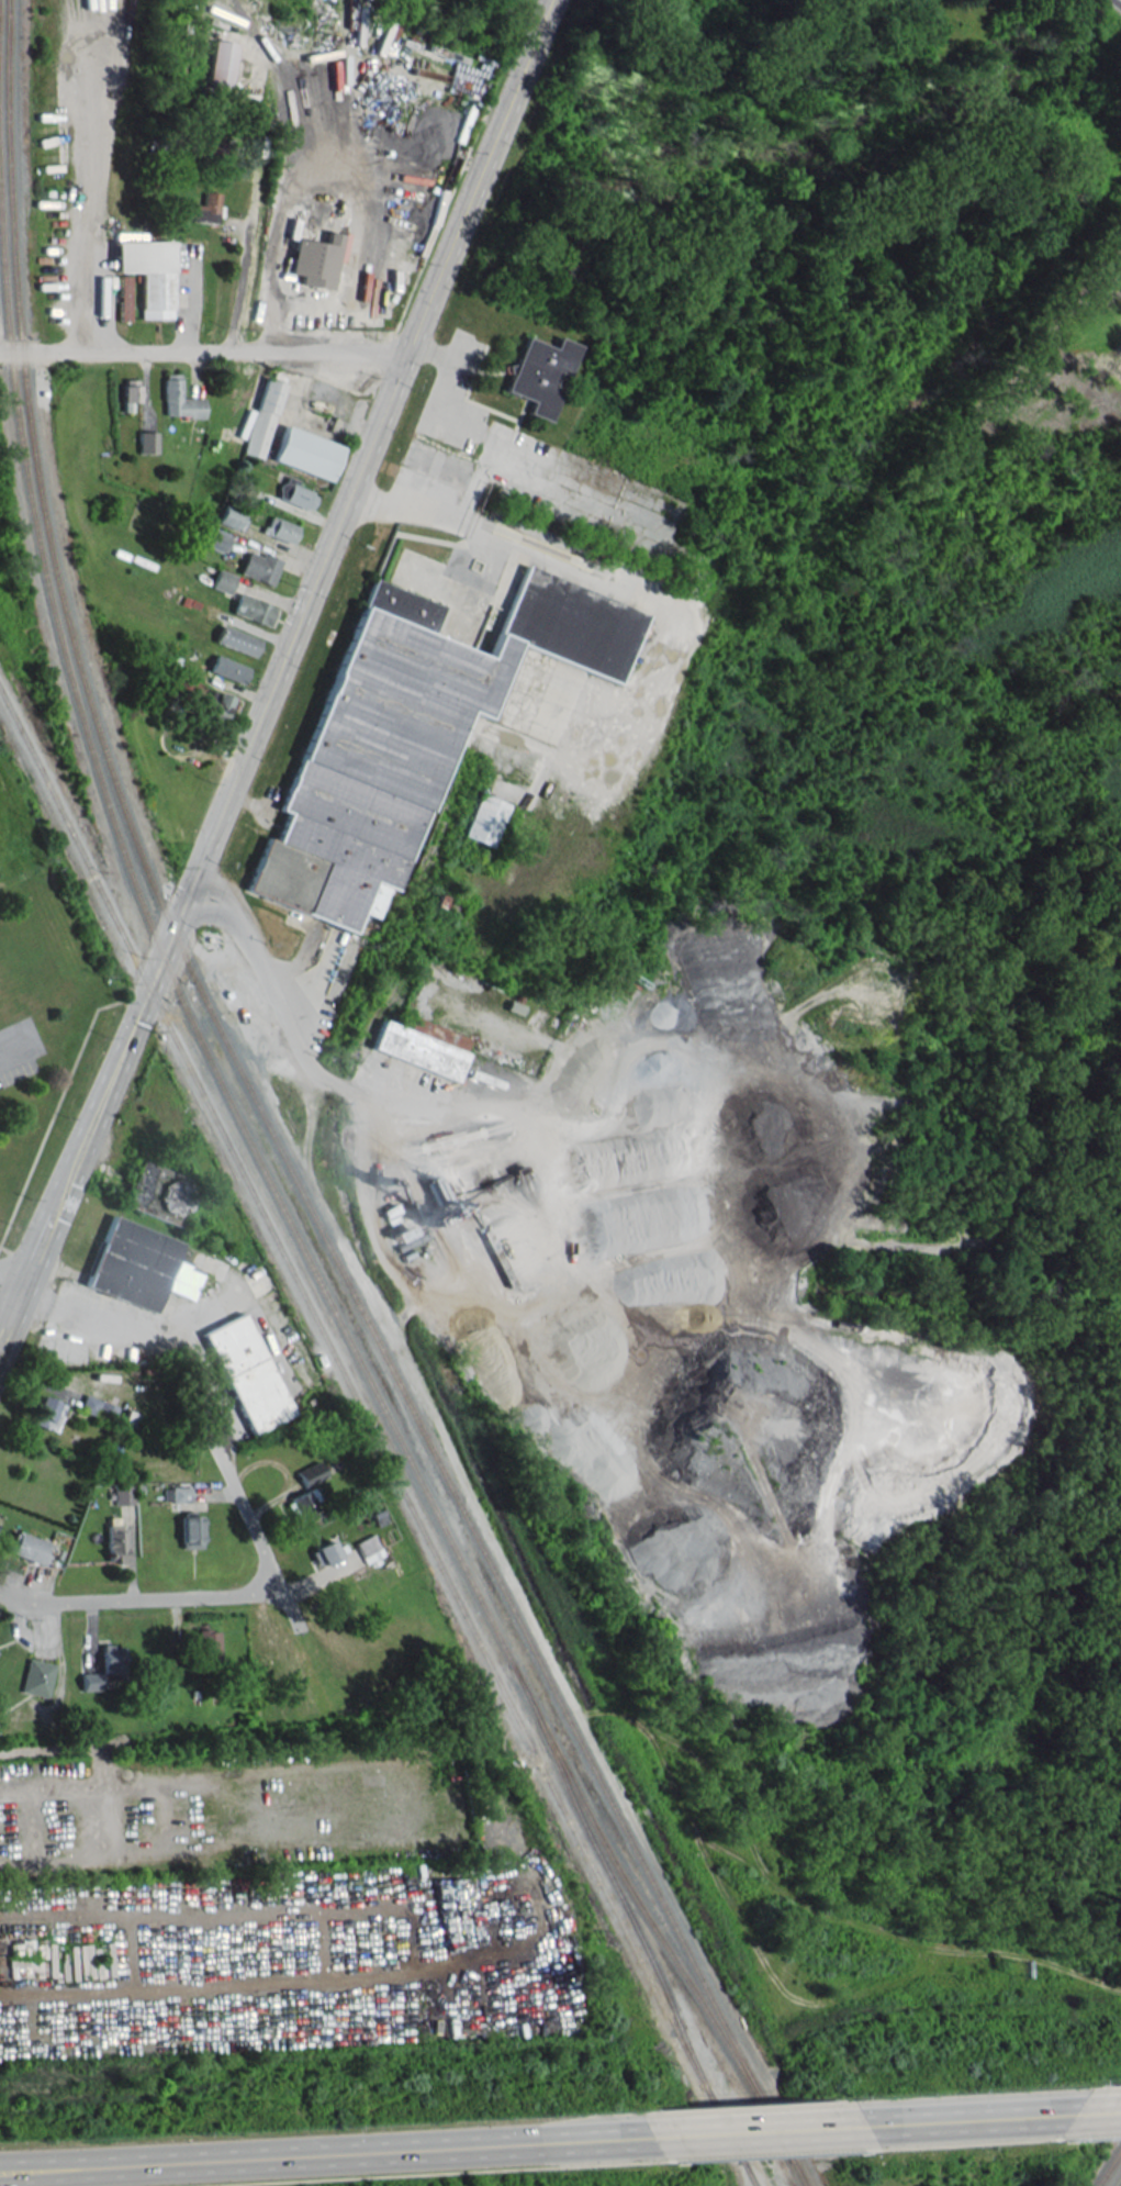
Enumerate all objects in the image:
park: (1120, 0)
road: (1120, 0)
building: (221, 63)
building: (402, 130)
building: (1066, 135)
building: (217, 154)
building: (208, 208)
road: (245, 245)
building: (315, 259)
building: (147, 270)
building: (123, 298)
road: (203, 352)
railway: (22, 358)
building: (541, 373)
road: (445, 381)
building: (130, 394)
building: (180, 398)
building: (264, 415)
building: (146, 442)
building: (306, 453)
building: (298, 492)
road: (392, 504)
building: (231, 517)
building: (280, 529)
building: (212, 537)
building: (259, 566)
building: (223, 581)
building: (253, 609)
building: (237, 640)
building: (228, 668)
road: (276, 676)
building: (217, 705)
building: (410, 733)
building: (484, 818)
railway: (142, 860)
road: (298, 1038)
building: (423, 1046)
road: (9, 1057)
railway: (336, 1101)
building: (158, 1192)
railway: (280, 1204)
building: (139, 1265)
road: (12, 1287)
road: (130, 1325)
building: (247, 1372)
railway: (370, 1427)
railway: (424, 1460)
road: (258, 1542)
railway: (505, 1594)
road: (138, 1599)
road: (93, 1756)
railway: (616, 1893)
road: (1105, 2110)
road: (968, 2117)
road: (755, 2128)
road: (330, 2151)
railway: (1107, 2165)
railway: (746, 2174)
railway: (747, 2174)

